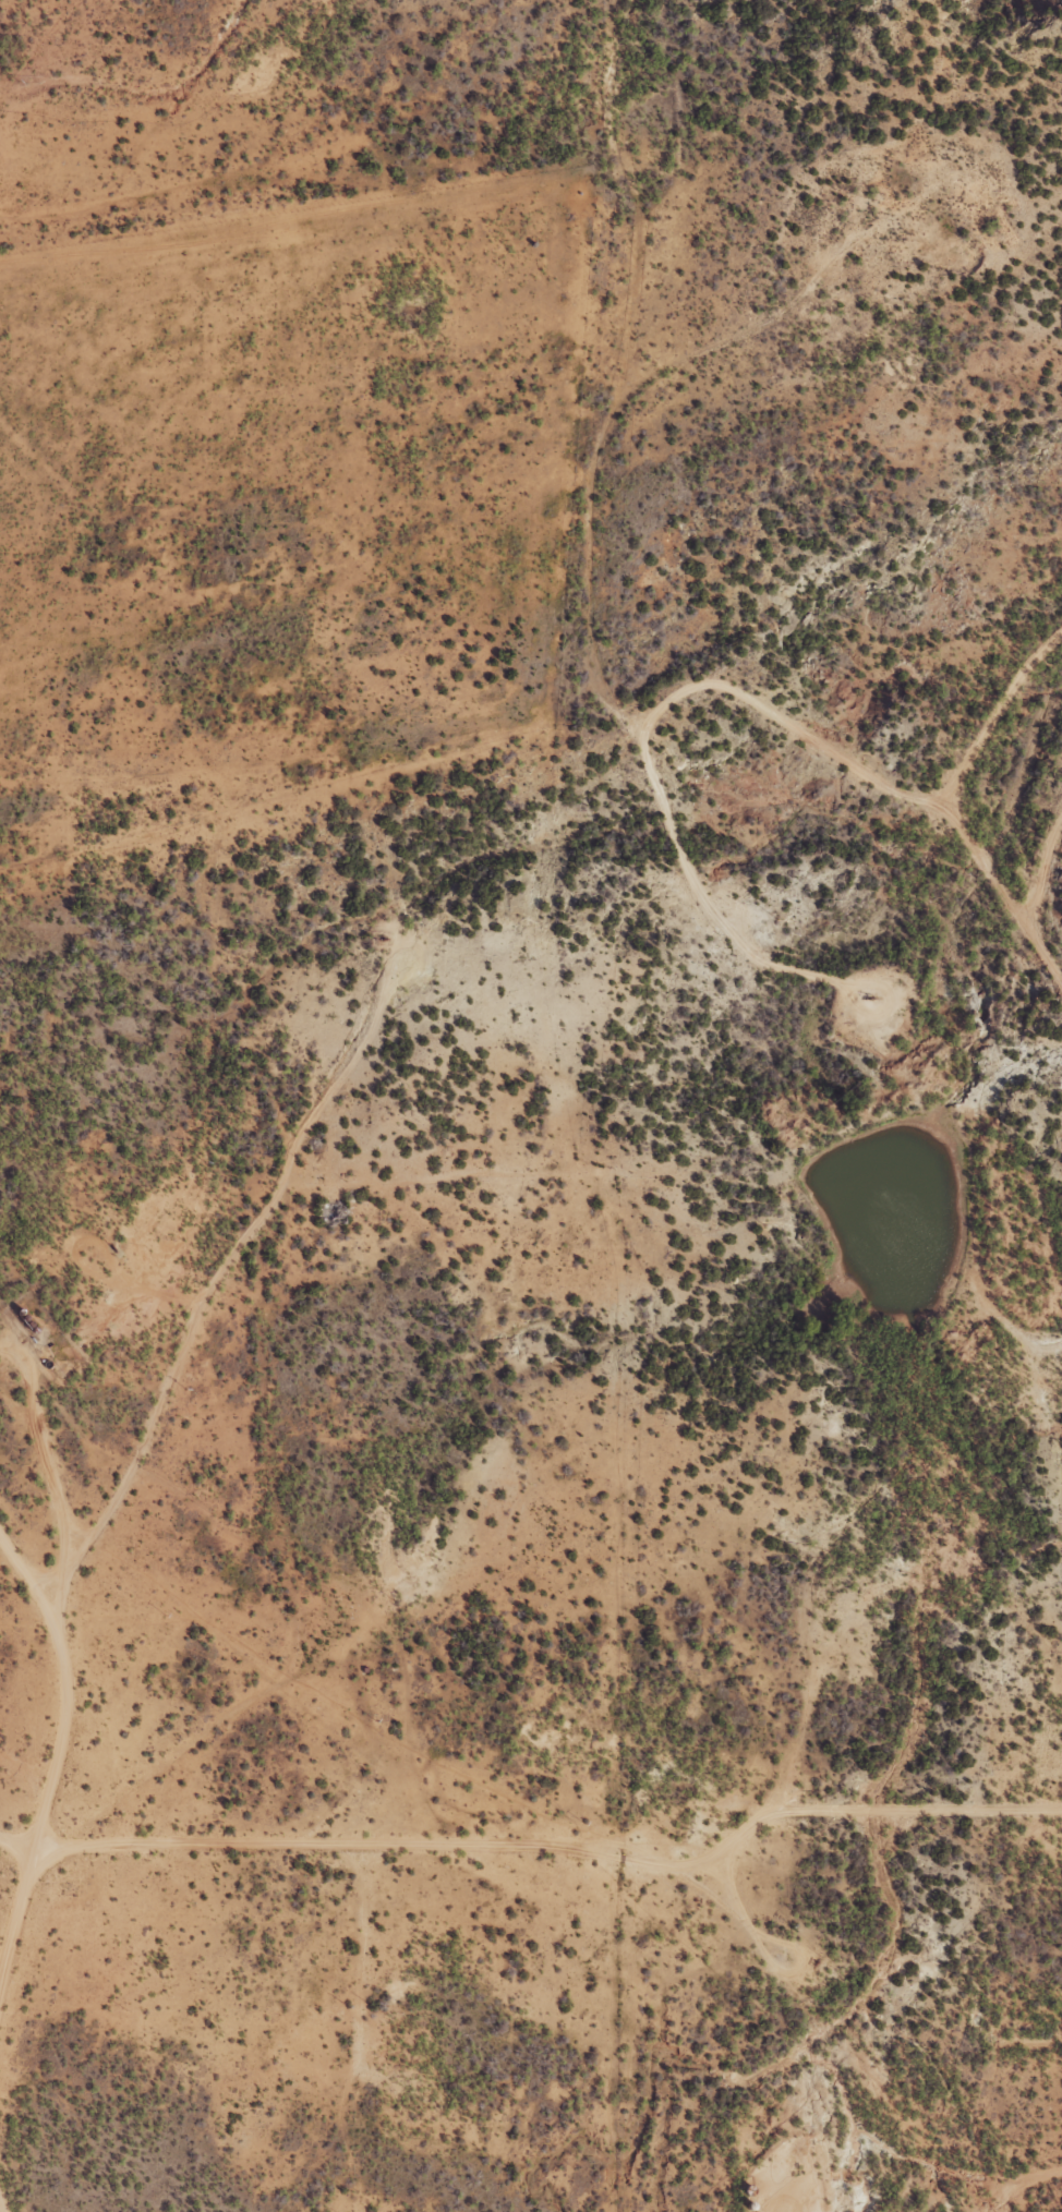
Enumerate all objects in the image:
road: (205, 184)
road: (595, 674)
road: (1001, 767)
road: (871, 805)
building: (335, 1212)
road: (173, 1391)
road: (20, 1619)
road: (523, 1863)

